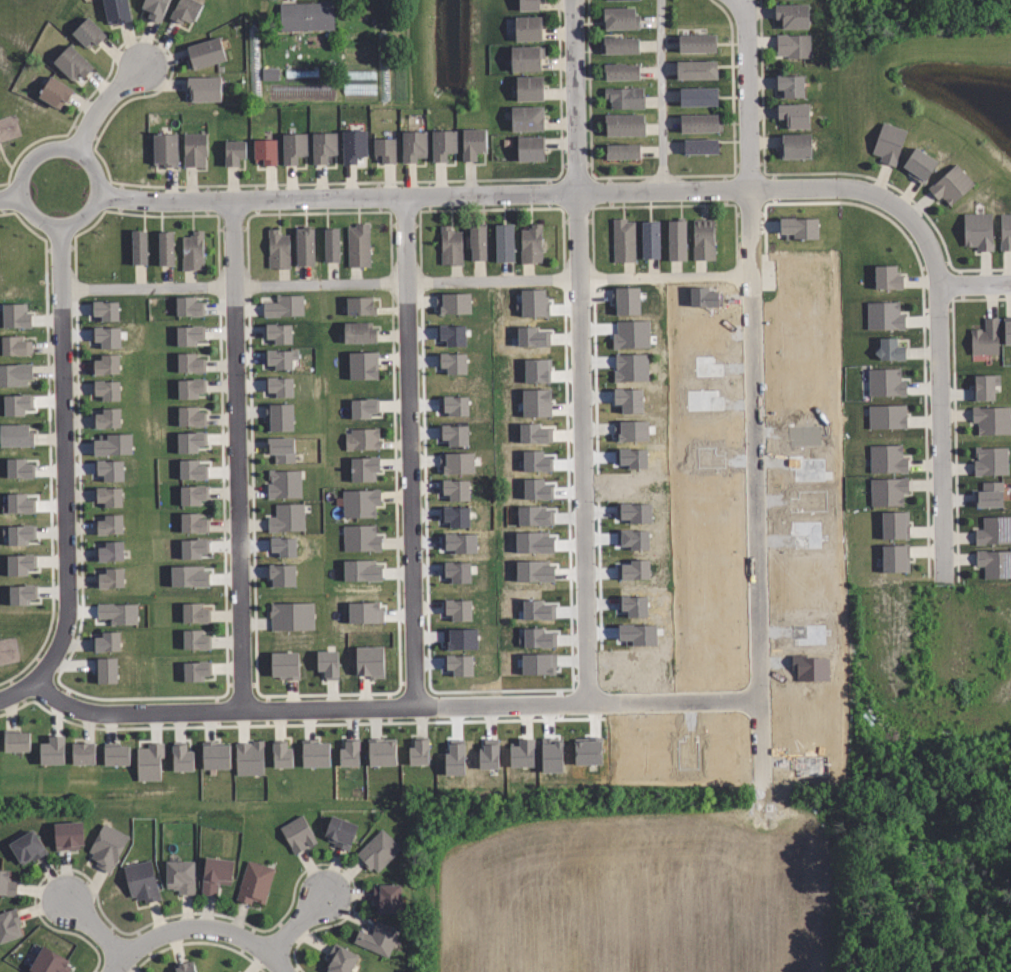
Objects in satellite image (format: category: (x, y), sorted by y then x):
building: (620, 0)
building: (530, 5)
building: (155, 8)
building: (116, 11)
building: (185, 11)
building: (304, 16)
building: (793, 16)
building: (621, 18)
building: (529, 28)
building: (86, 32)
building: (698, 43)
building: (622, 44)
building: (792, 45)
building: (206, 53)
building: (527, 57)
building: (70, 62)
building: (697, 69)
building: (622, 71)
building: (269, 74)
building: (790, 85)
building: (530, 87)
building: (204, 88)
building: (53, 93)
road: (661, 96)
building: (701, 96)
building: (628, 100)
road: (101, 104)
building: (794, 115)
building: (528, 118)
building: (625, 122)
building: (702, 122)
building: (889, 143)
building: (441, 144)
building: (471, 144)
building: (351, 145)
building: (412, 145)
building: (699, 145)
building: (321, 146)
building: (794, 146)
building: (291, 147)
building: (531, 147)
building: (383, 148)
road: (750, 148)
building: (163, 149)
building: (194, 149)
building: (623, 150)
building: (262, 151)
building: (232, 152)
building: (918, 165)
building: (950, 185)
road: (103, 187)
road: (581, 193)
road: (9, 200)
building: (798, 227)
building: (977, 230)
building: (1004, 231)
building: (702, 239)
building: (623, 240)
building: (650, 240)
building: (675, 240)
building: (476, 241)
building: (503, 243)
building: (330, 244)
building: (531, 244)
building: (357, 246)
building: (449, 246)
building: (138, 247)
building: (304, 247)
building: (165, 248)
building: (278, 249)
building: (192, 250)
building: (887, 277)
road: (406, 279)
building: (452, 302)
building: (623, 302)
building: (530, 303)
building: (188, 305)
building: (284, 305)
building: (362, 305)
building: (106, 309)
building: (15, 314)
building: (883, 314)
building: (1006, 330)
building: (279, 332)
building: (361, 333)
building: (451, 333)
building: (190, 334)
building: (106, 335)
building: (629, 335)
building: (985, 337)
building: (529, 338)
building: (16, 345)
building: (889, 349)
road: (581, 352)
building: (281, 357)
building: (452, 361)
building: (190, 362)
building: (107, 363)
building: (363, 364)
building: (629, 368)
building: (533, 372)
building: (15, 374)
building: (883, 382)
building: (280, 386)
building: (983, 386)
building: (191, 387)
building: (108, 388)
building: (624, 401)
building: (16, 403)
building: (532, 404)
building: (450, 407)
building: (358, 408)
building: (280, 415)
building: (191, 416)
building: (885, 416)
building: (108, 417)
building: (991, 419)
building: (628, 432)
road: (943, 433)
building: (532, 434)
building: (17, 435)
building: (451, 437)
building: (359, 440)
building: (190, 441)
building: (111, 443)
building: (274, 448)
road: (408, 451)
road: (237, 454)
building: (886, 458)
road: (64, 459)
building: (991, 460)
building: (530, 462)
building: (452, 464)
building: (21, 468)
building: (109, 469)
building: (358, 469)
building: (192, 470)
building: (281, 485)
building: (531, 490)
building: (451, 491)
building: (886, 491)
building: (193, 493)
building: (990, 493)
building: (108, 495)
road: (753, 498)
building: (18, 503)
building: (357, 504)
building: (631, 513)
building: (527, 516)
building: (285, 518)
building: (452, 518)
building: (193, 523)
building: (109, 524)
building: (893, 524)
building: (993, 530)
building: (20, 533)
building: (358, 539)
building: (630, 540)
building: (455, 544)
building: (527, 544)
building: (193, 547)
building: (278, 547)
building: (110, 553)
building: (894, 558)
building: (994, 562)
building: (21, 564)
building: (631, 571)
building: (355, 572)
building: (454, 573)
building: (527, 573)
building: (282, 575)
building: (110, 576)
building: (189, 576)
building: (21, 593)
building: (455, 610)
building: (196, 611)
building: (118, 612)
building: (364, 612)
building: (292, 615)
building: (197, 638)
building: (459, 639)
building: (535, 639)
building: (108, 641)
building: (370, 662)
building: (328, 664)
building: (458, 664)
building: (285, 665)
building: (105, 669)
building: (195, 670)
road: (18, 691)
road: (390, 707)
building: (17, 739)
building: (418, 750)
building: (51, 751)
building: (382, 751)
building: (116, 752)
building: (349, 752)
building: (84, 753)
building: (315, 753)
building: (282, 754)
building: (583, 754)
building: (518, 755)
building: (214, 756)
building: (485, 756)
building: (182, 758)
building: (249, 758)
building: (548, 758)
building: (150, 761)
building: (451, 761)
building: (337, 832)
building: (295, 834)
building: (66, 835)
building: (27, 846)
building: (106, 847)
building: (376, 851)
building: (214, 875)
building: (178, 877)
building: (142, 881)
building: (254, 883)
building: (7, 884)
building: (387, 897)
building: (9, 923)
road: (297, 924)
road: (94, 930)
road: (151, 938)
building: (376, 938)
road: (248, 939)
building: (342, 960)
building: (47, 962)
building: (185, 966)

